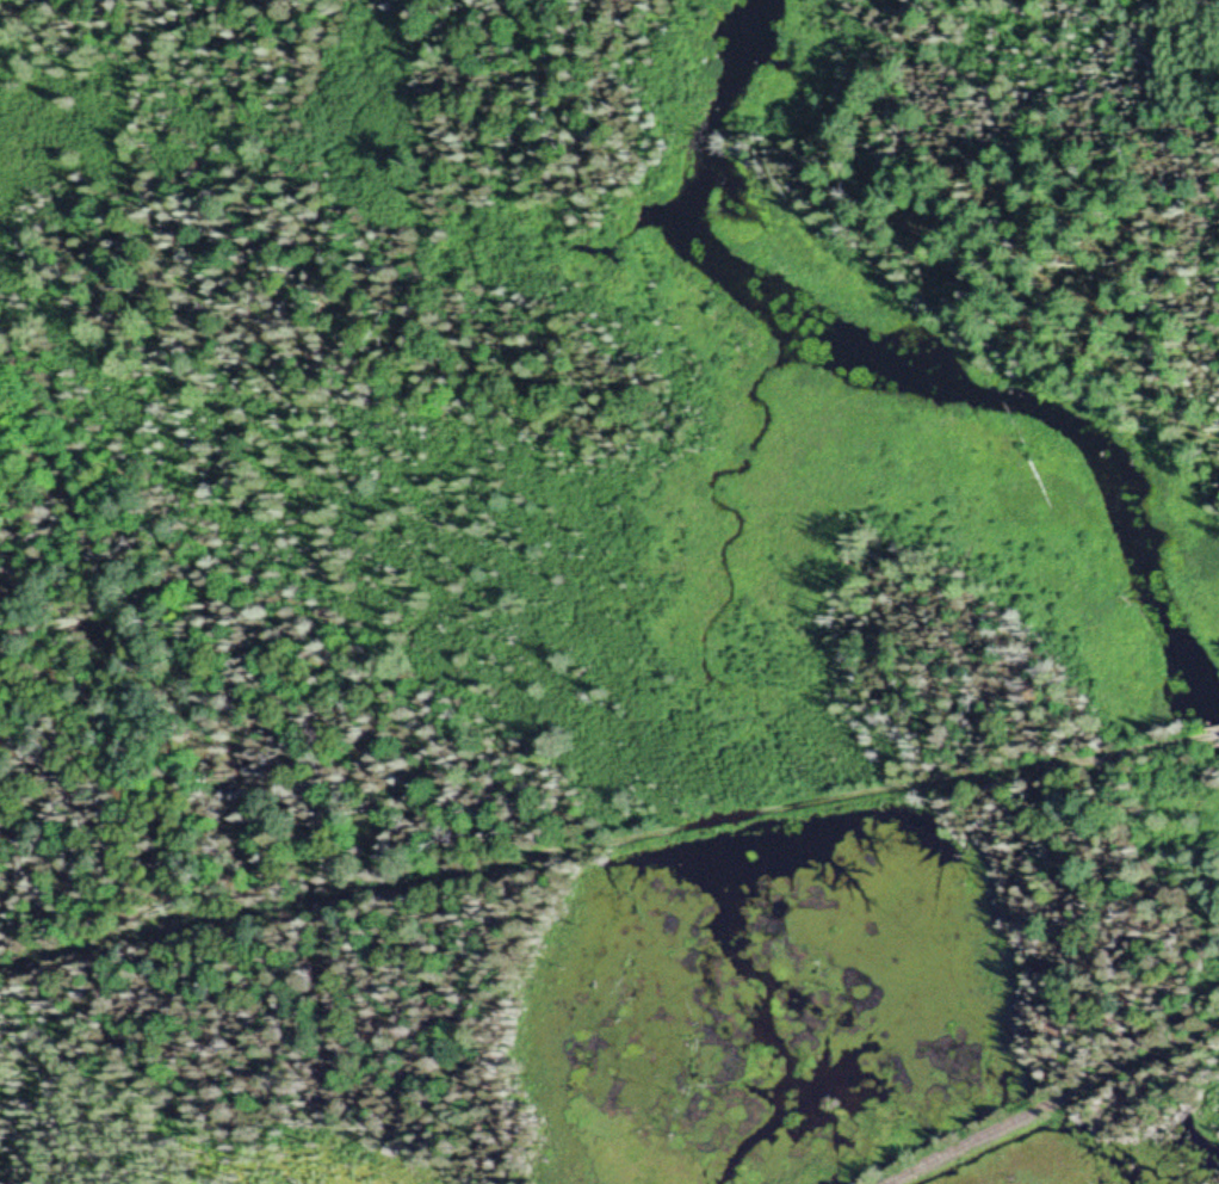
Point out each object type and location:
river: (694, 181)
river: (1087, 442)
road: (1206, 738)
road: (594, 846)
railway: (1054, 1108)

